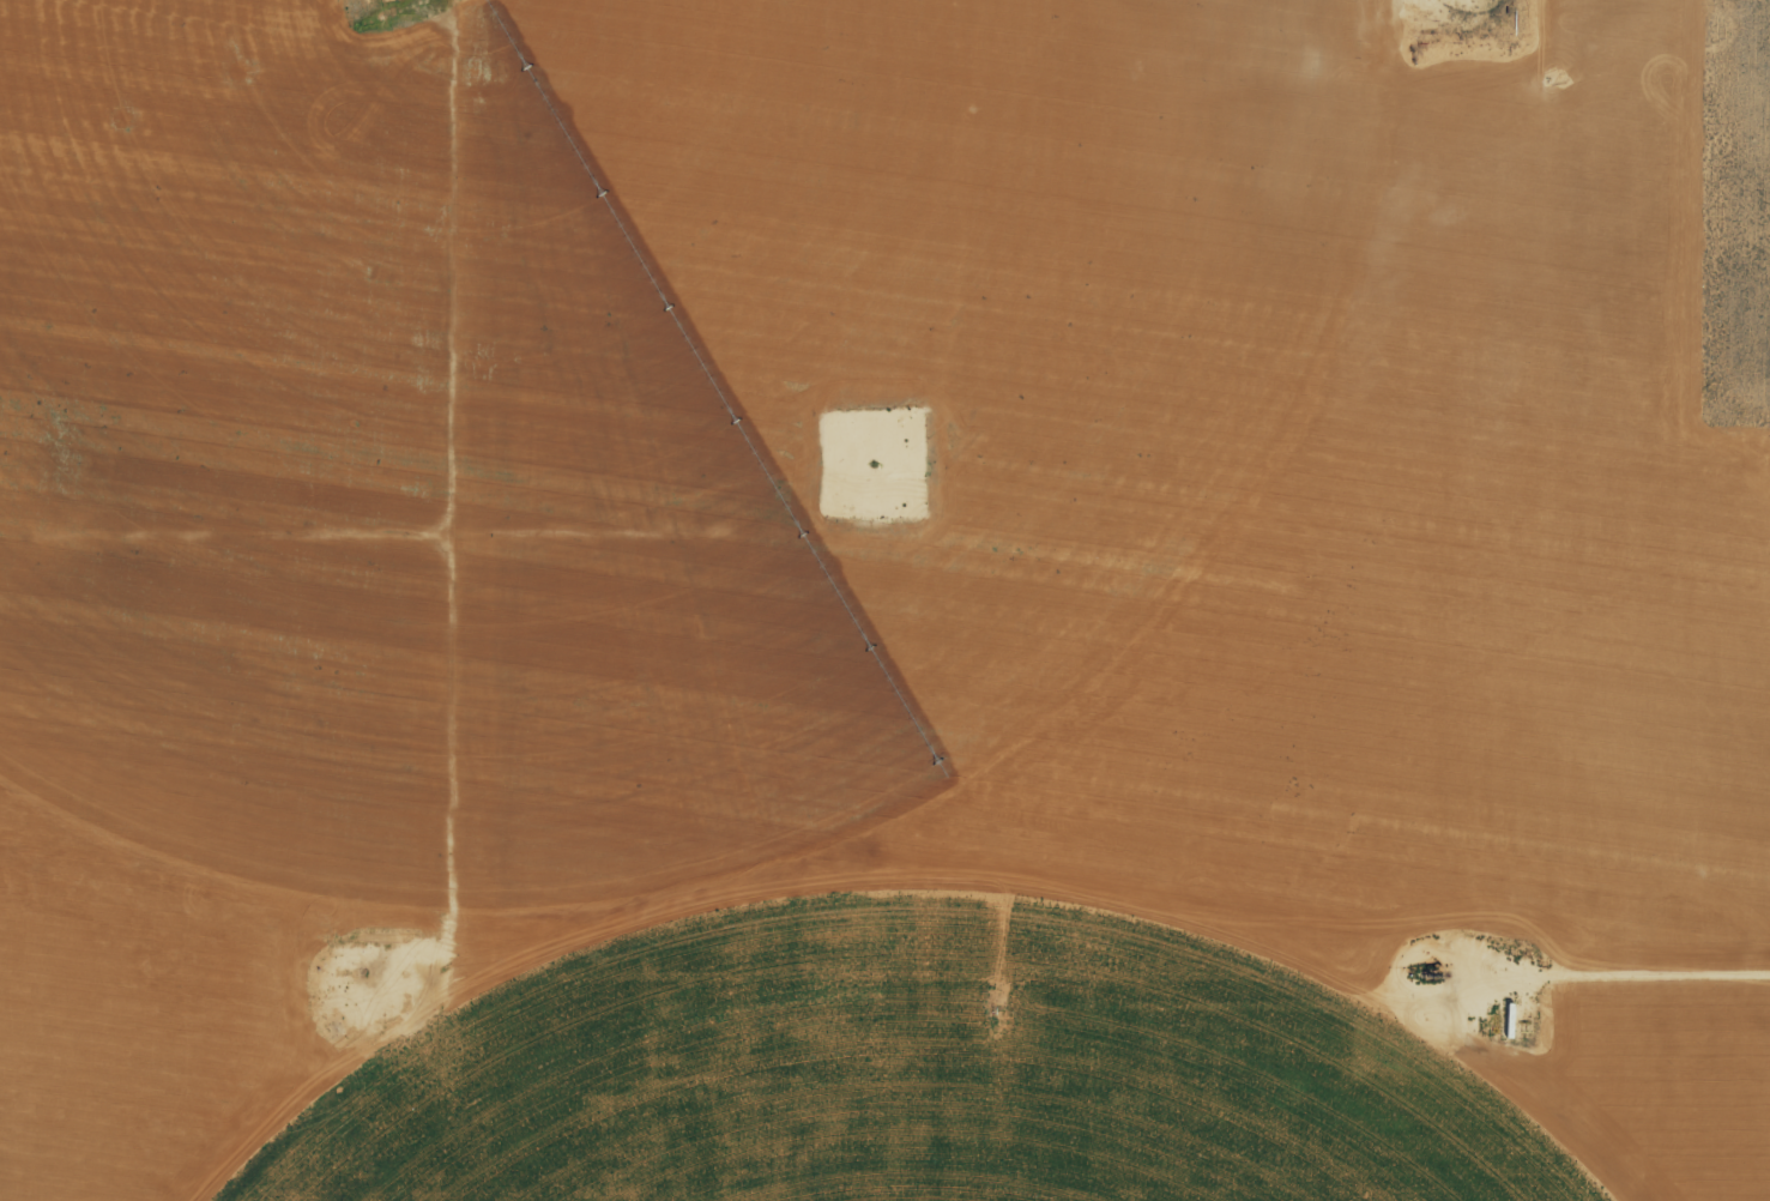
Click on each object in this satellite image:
petroleum well: (1424, 974)

